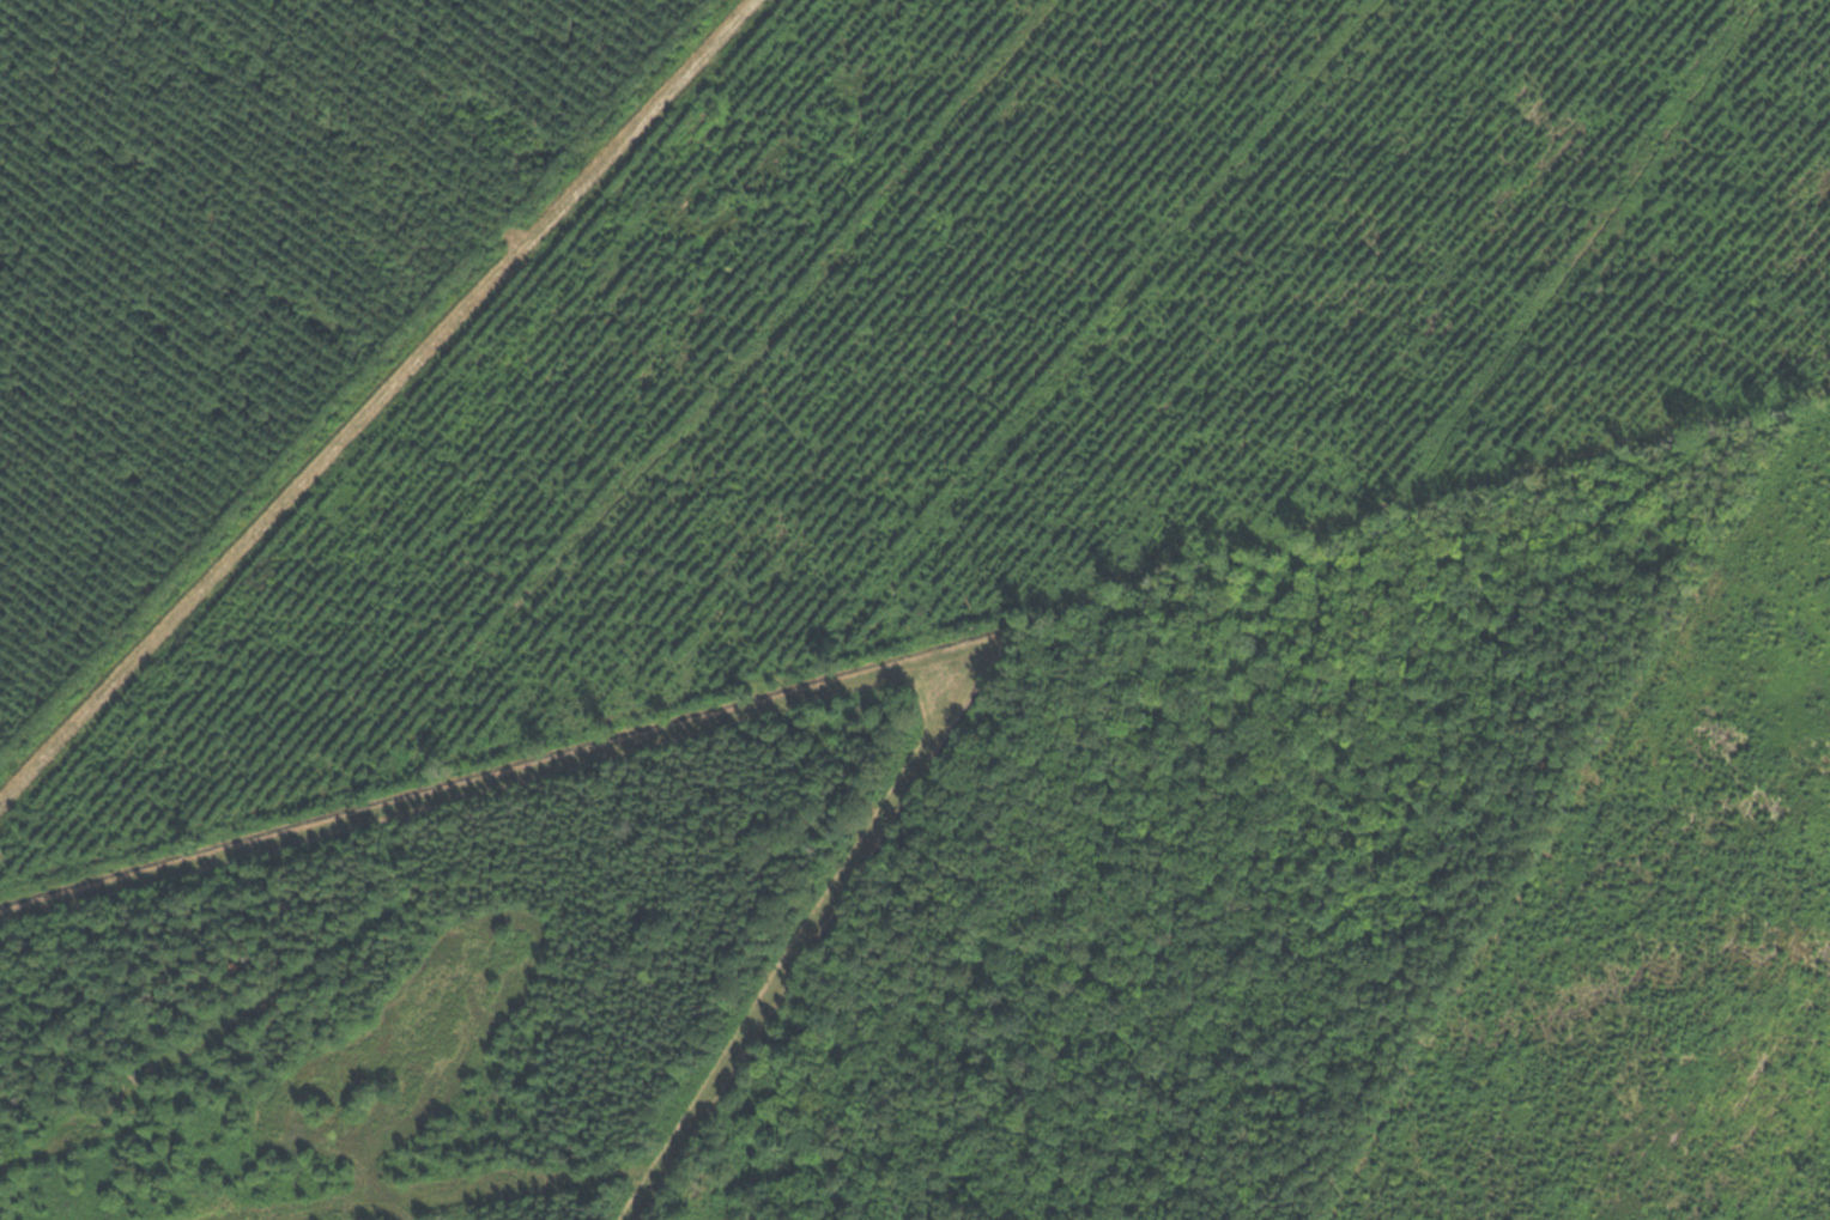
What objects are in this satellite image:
road: (386, 402)

